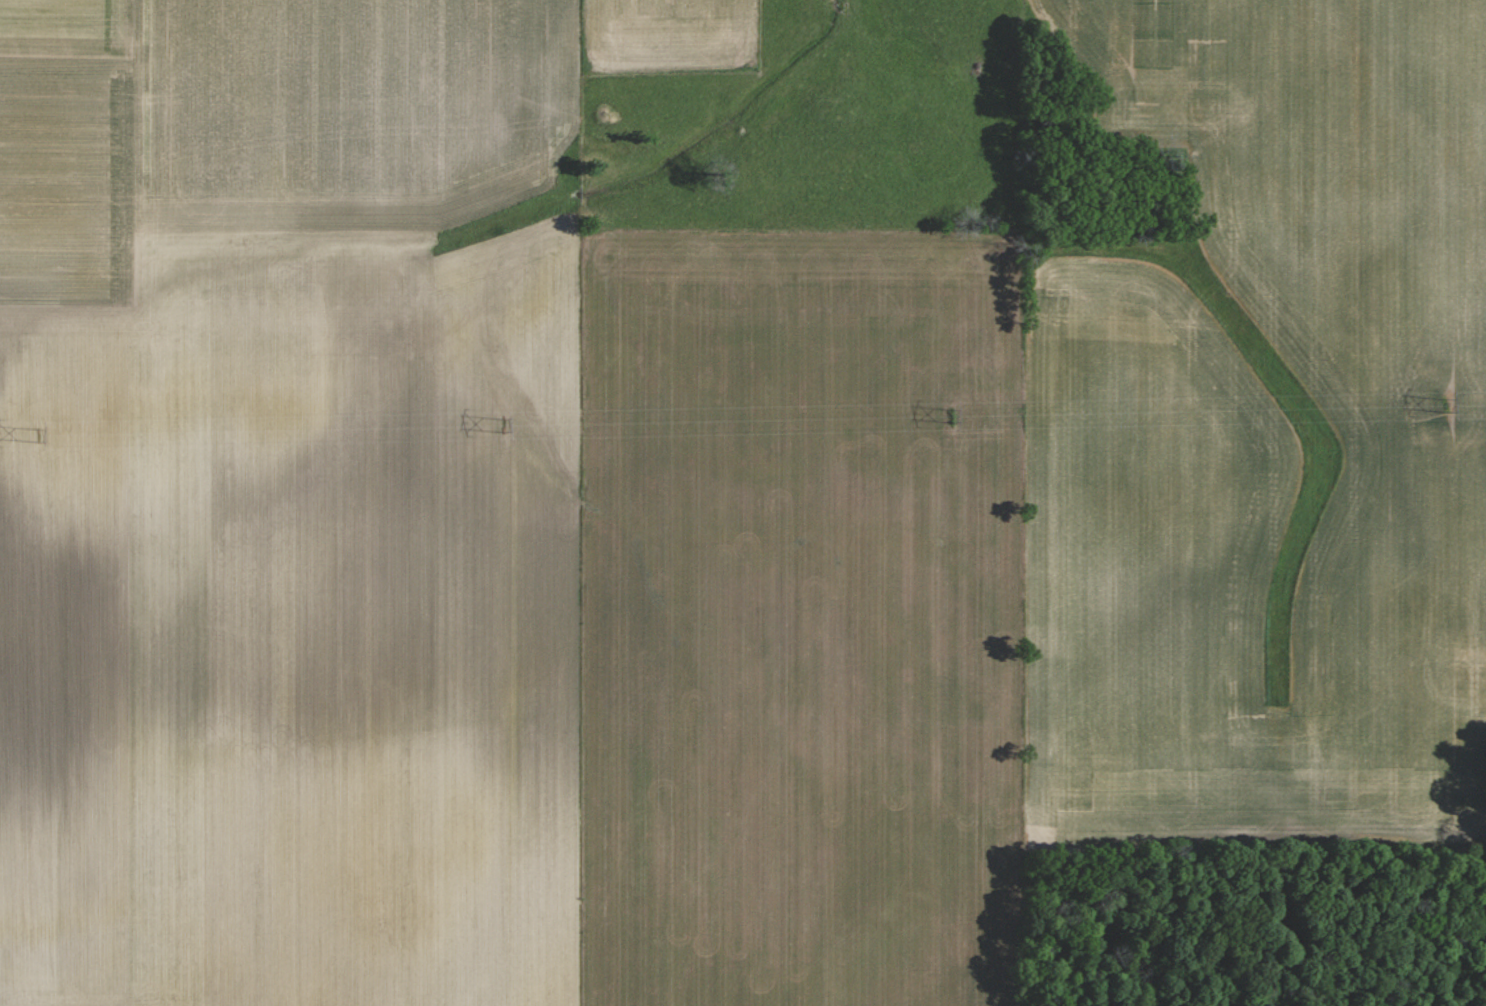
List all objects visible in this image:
power tower: (1448, 405)
power tower: (953, 415)
power tower: (503, 426)
power tower: (40, 435)

